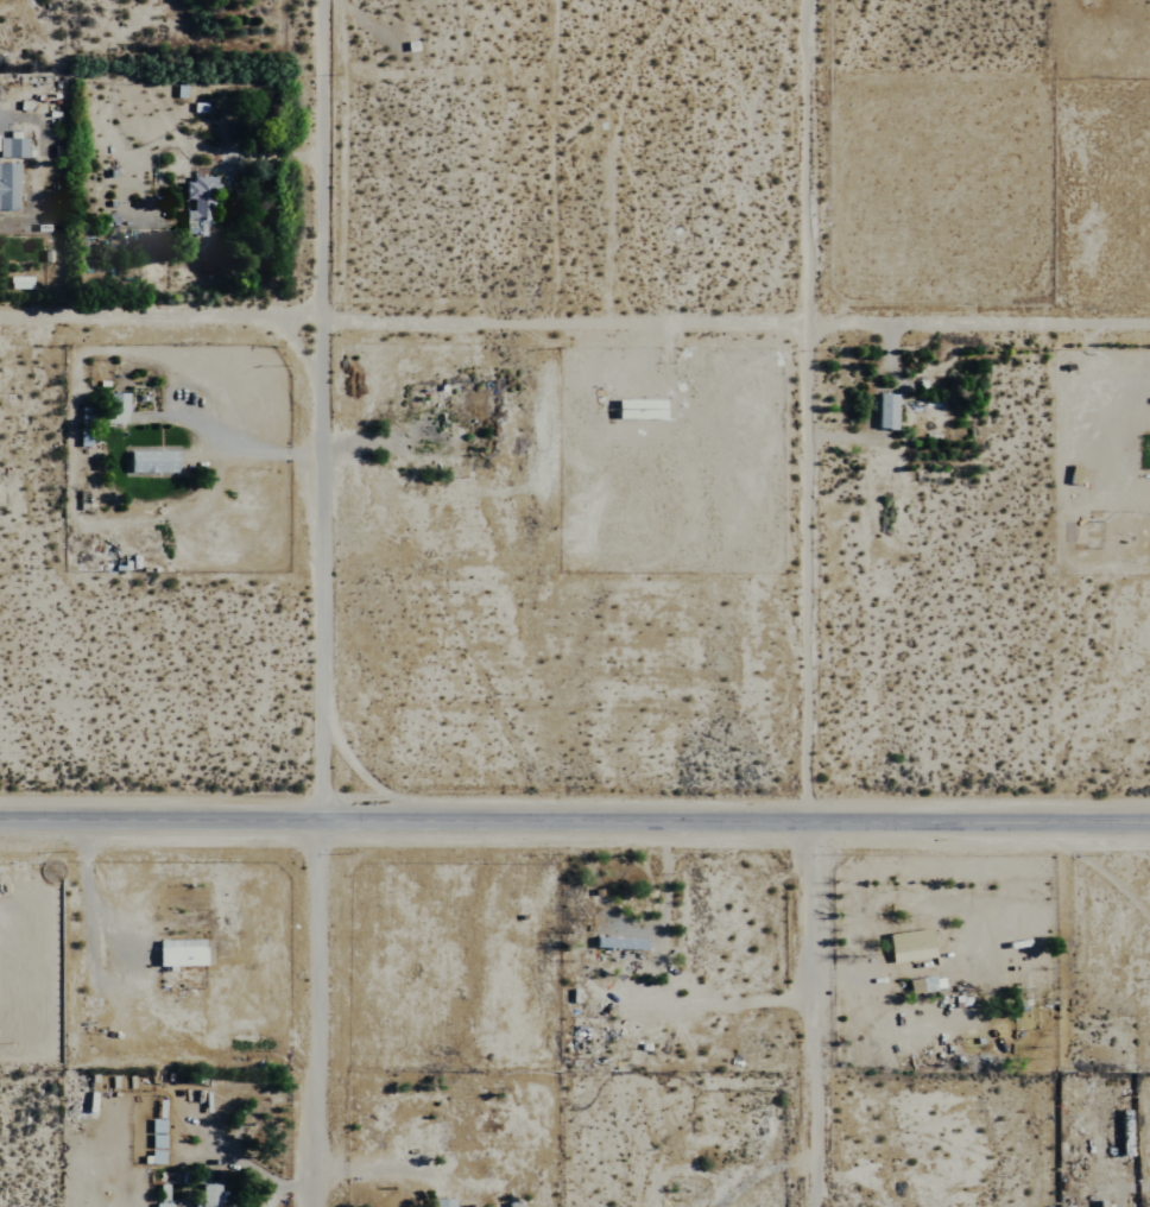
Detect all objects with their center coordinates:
road: (574, 326)
road: (312, 410)
road: (808, 412)
road: (574, 823)
road: (317, 1013)
road: (805, 1015)
road: (286, 1187)

